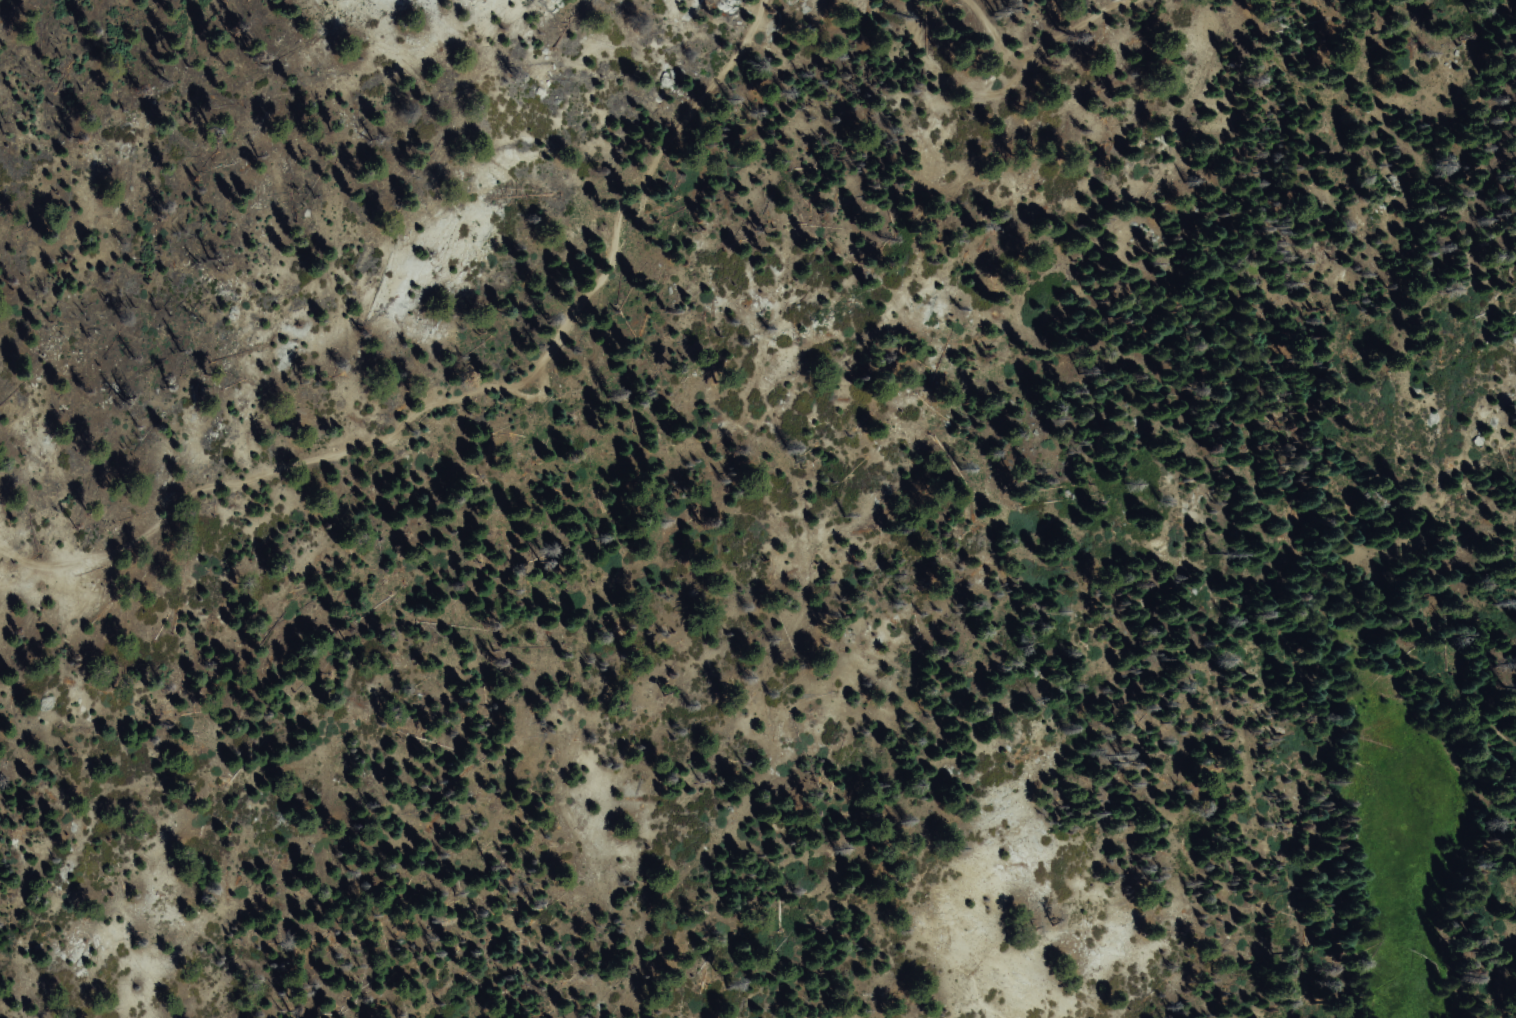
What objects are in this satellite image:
road: (1043, 39)
building: (799, 144)
road: (469, 394)
building: (1269, 515)
building: (1258, 591)

